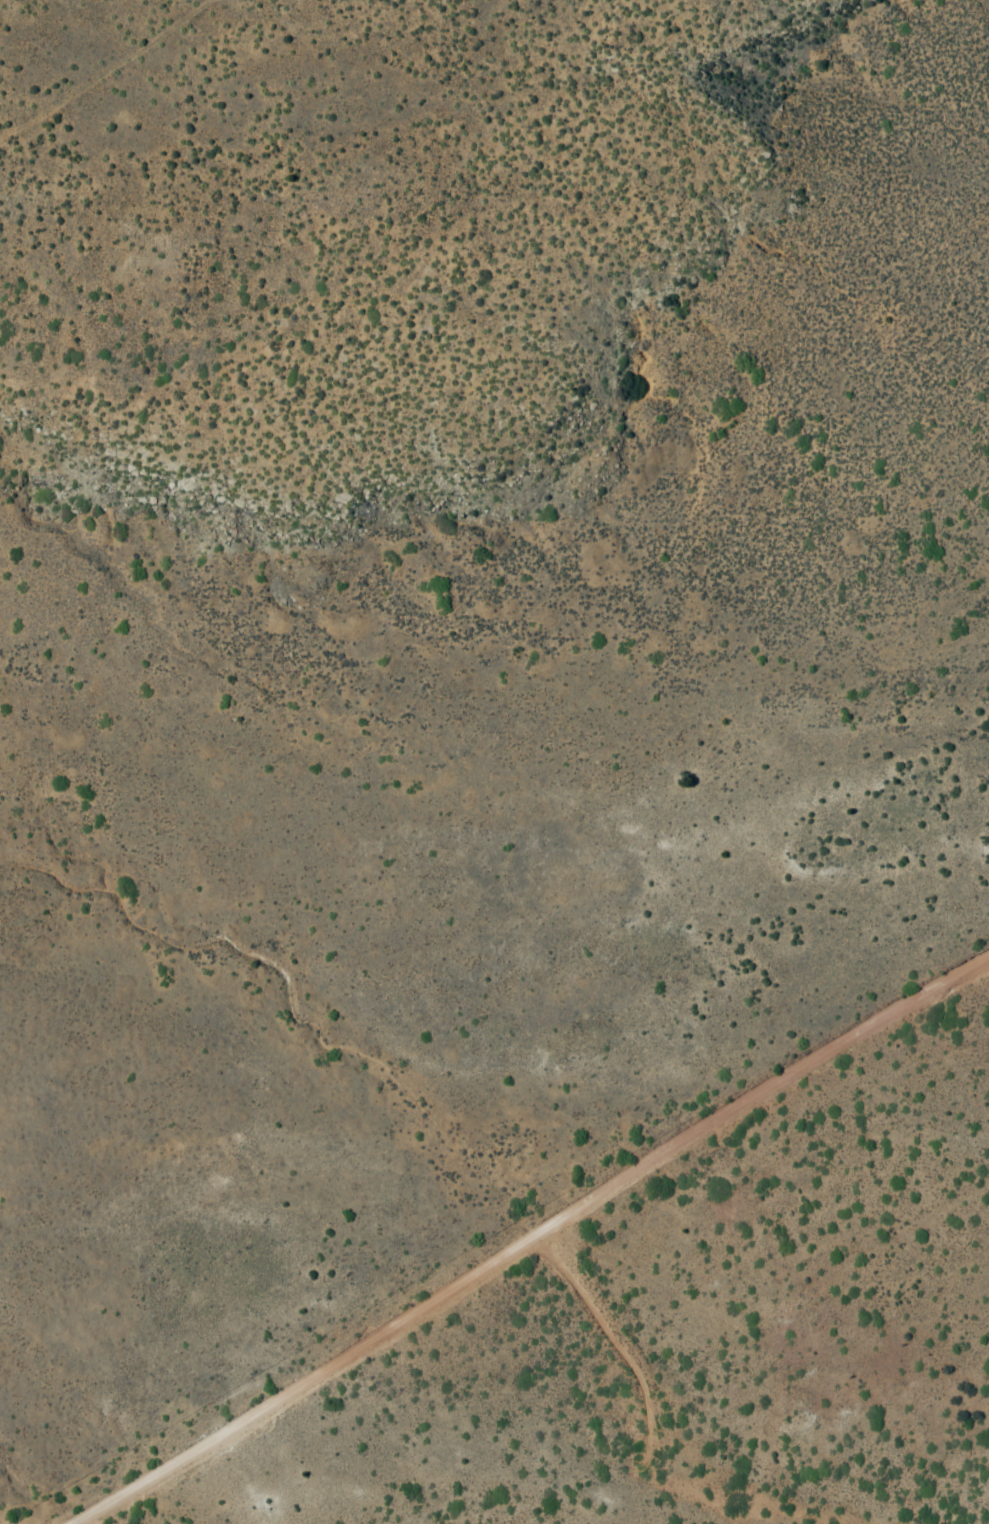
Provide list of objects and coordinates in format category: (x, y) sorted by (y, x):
road: (77, 44)
road: (530, 1238)

